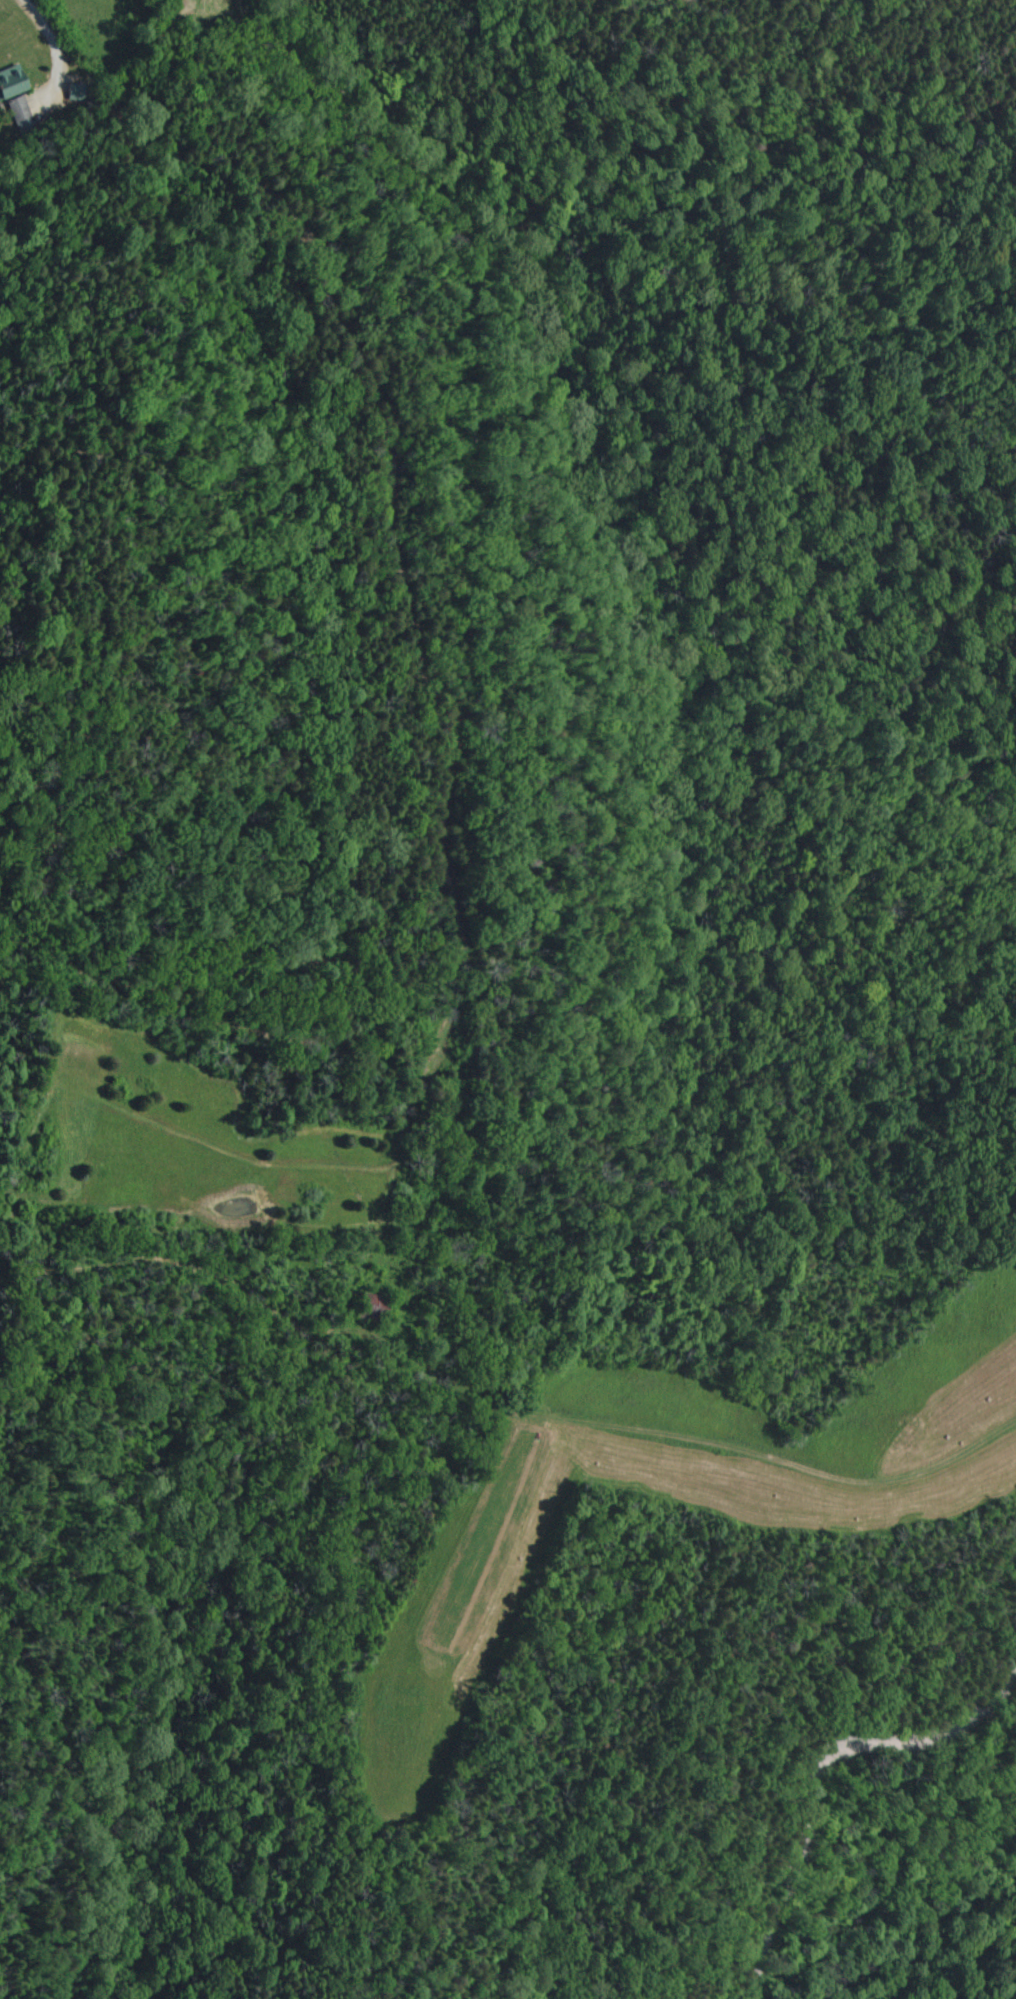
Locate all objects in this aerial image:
road: (60, 42)
crop: (61, 55)
building: (8, 82)
building: (15, 111)
road: (823, 1764)

